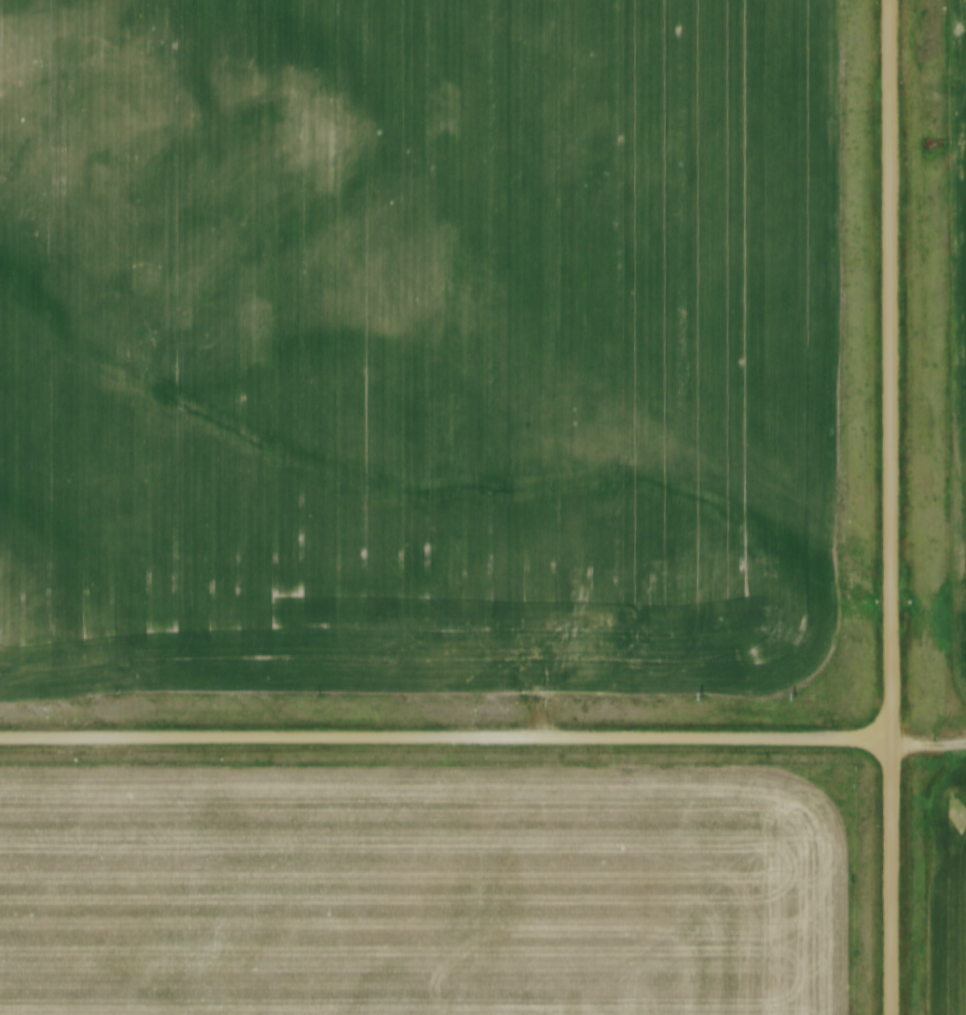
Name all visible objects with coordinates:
road: (894, 507)
road: (447, 735)
road: (931, 754)

